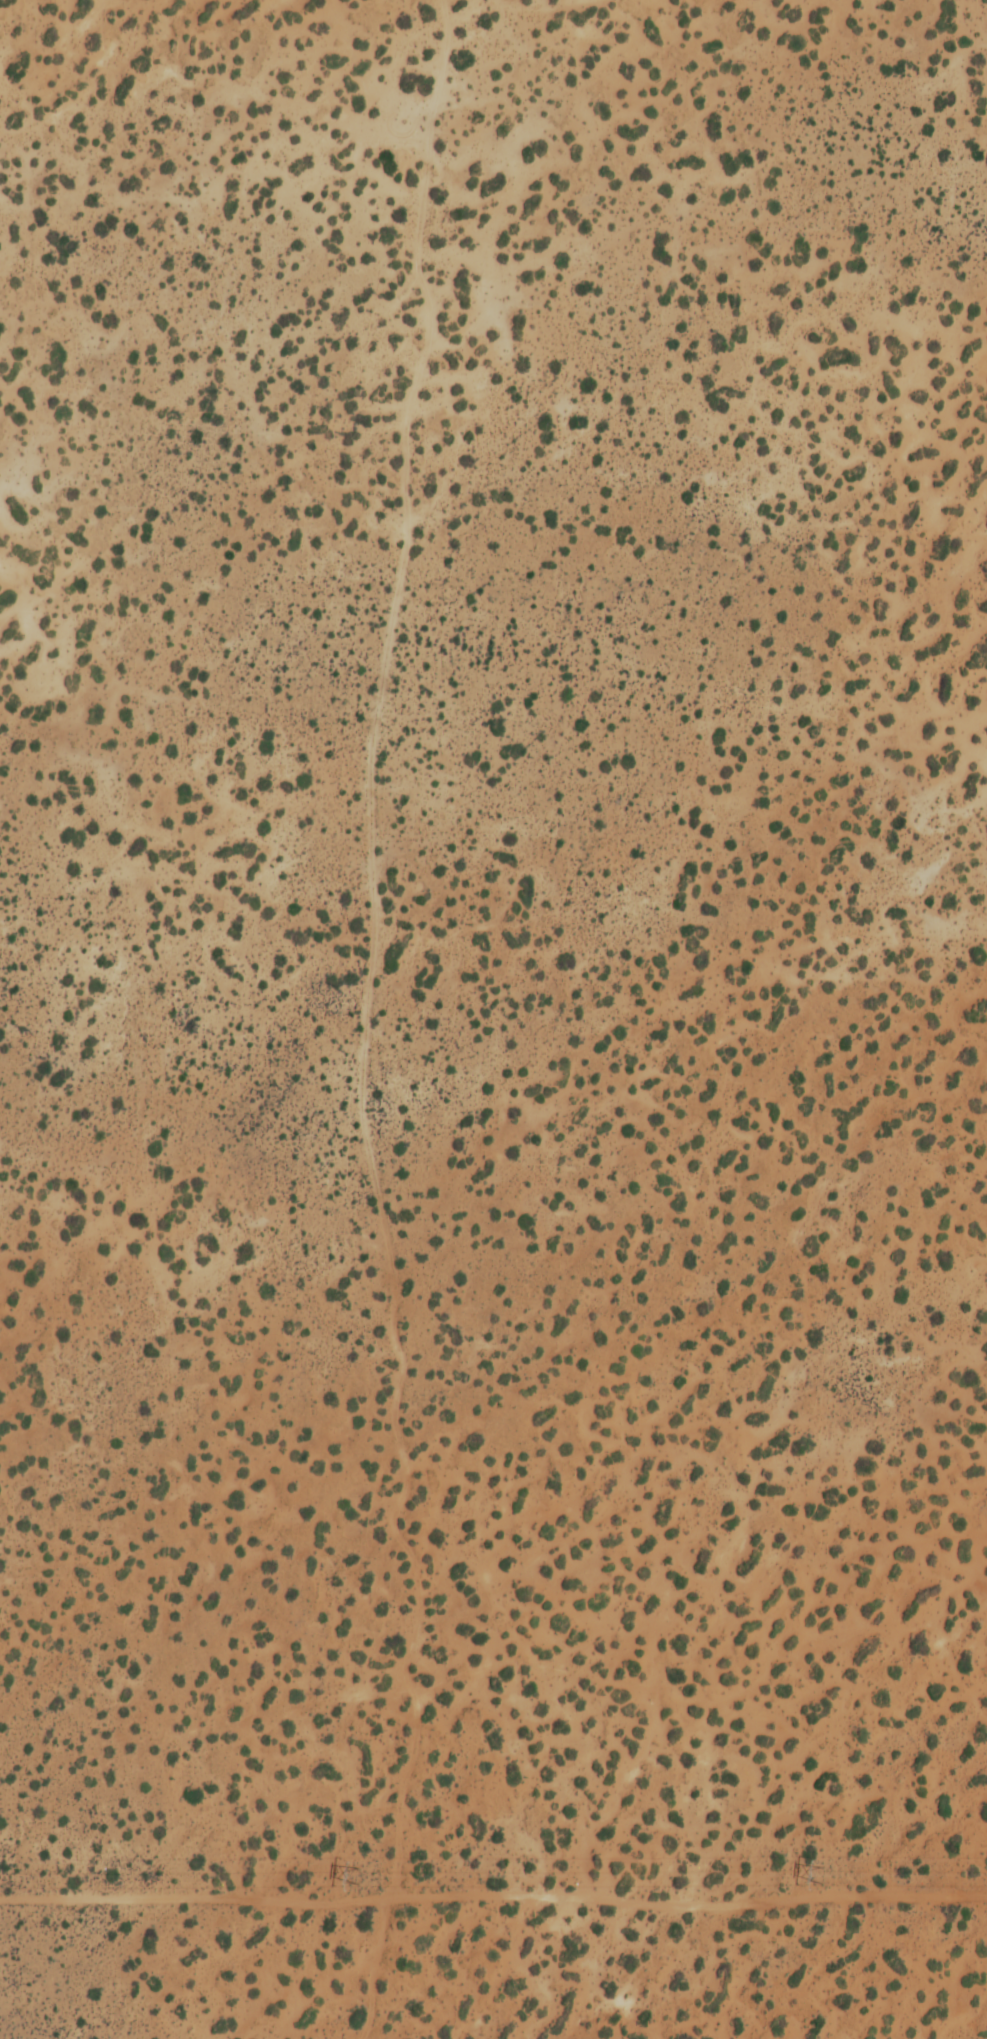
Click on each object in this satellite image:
power tower: (823, 1872)
power tower: (362, 1873)

